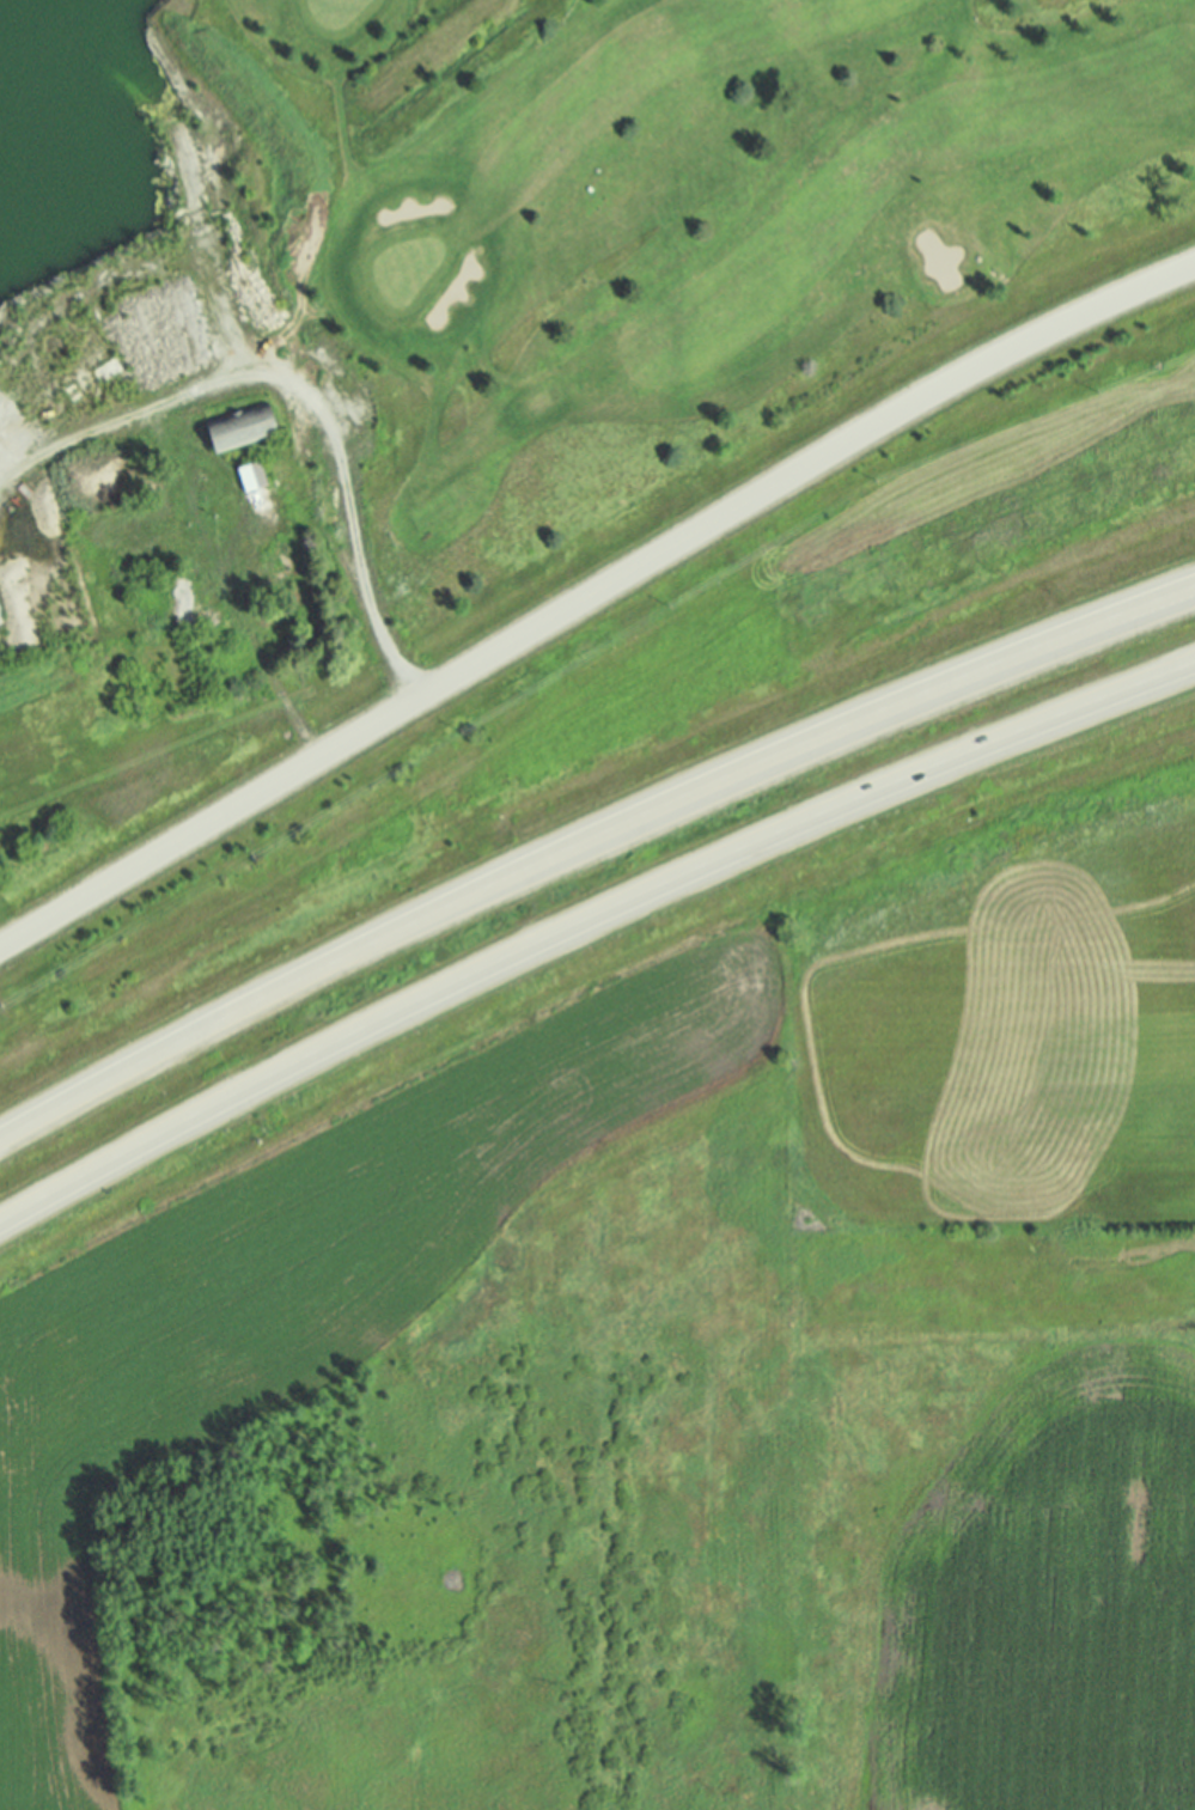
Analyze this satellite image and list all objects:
park: (694, 223)
quarry: (172, 382)
building: (246, 427)
building: (257, 476)
road: (345, 504)
road: (590, 591)
road: (586, 836)
road: (586, 921)

